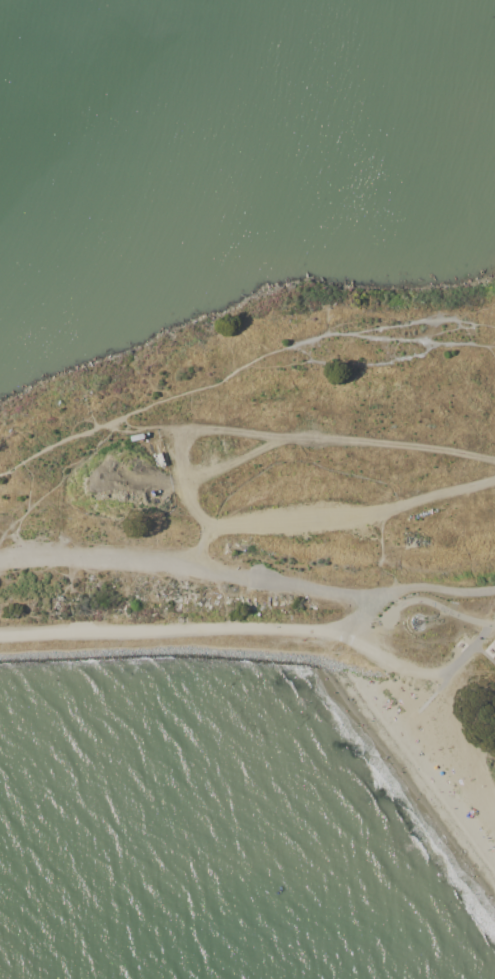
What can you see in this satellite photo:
road: (245, 369)
park: (152, 503)
road: (330, 506)
park: (400, 553)
road: (184, 565)
road: (430, 588)
road: (438, 606)
road: (193, 629)
road: (423, 673)
road: (444, 684)

